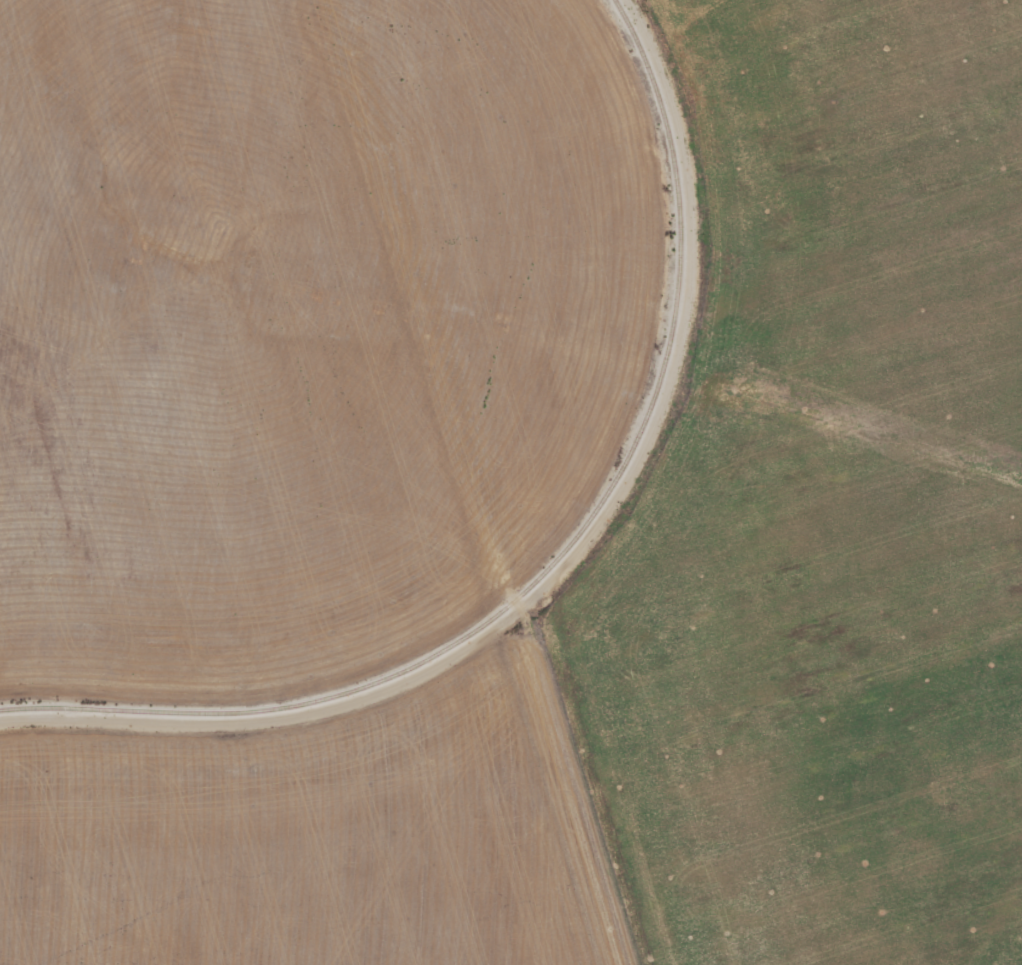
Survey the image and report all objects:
railway: (558, 560)

